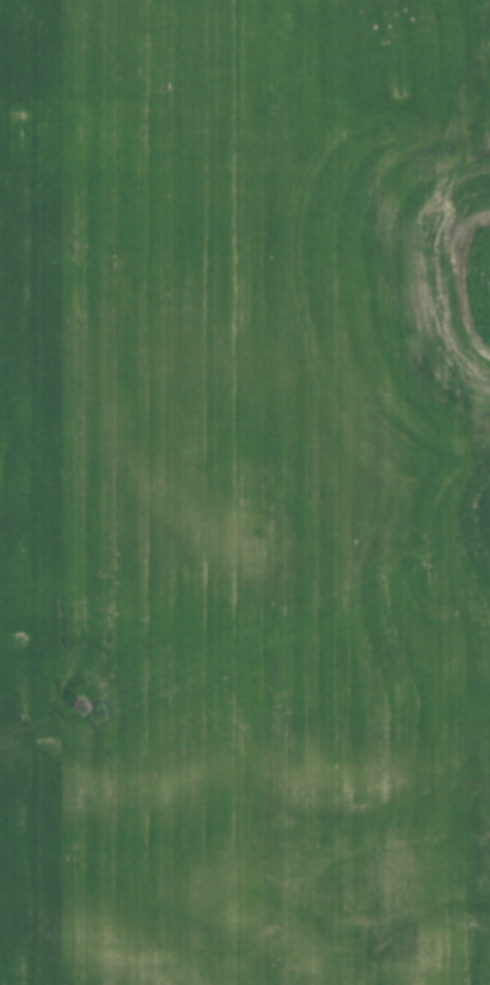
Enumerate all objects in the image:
power tower: (81, 706)

